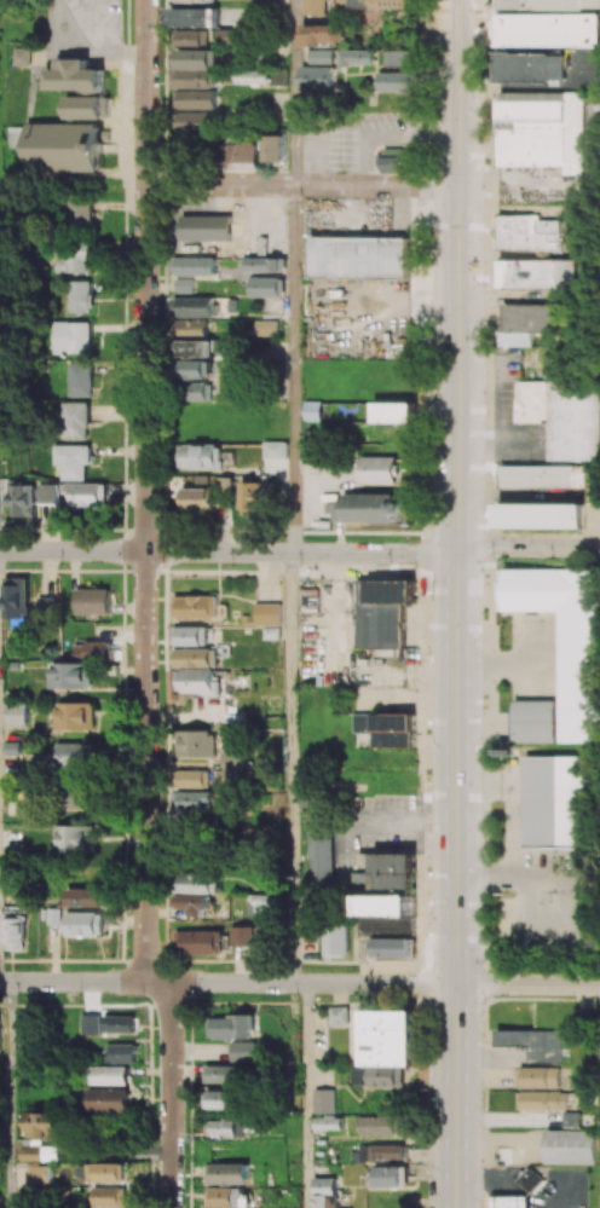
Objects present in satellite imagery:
building: (195, 2)
building: (549, 4)
building: (312, 7)
building: (194, 17)
building: (547, 30)
building: (322, 34)
building: (192, 36)
building: (230, 36)
building: (18, 56)
building: (319, 56)
building: (356, 57)
building: (399, 58)
building: (530, 67)
building: (195, 69)
building: (74, 75)
building: (252, 76)
building: (316, 76)
building: (397, 82)
road: (293, 92)
street lamp: (483, 96)
building: (195, 99)
building: (86, 108)
building: (540, 129)
building: (62, 148)
building: (275, 148)
building: (396, 161)
road: (301, 185)
street lamp: (431, 197)
building: (79, 214)
building: (204, 227)
building: (526, 233)
building: (359, 256)
building: (69, 259)
building: (264, 264)
building: (194, 266)
building: (535, 274)
street lamp: (481, 284)
building: (184, 285)
building: (266, 287)
building: (76, 296)
building: (194, 306)
building: (523, 323)
building: (191, 326)
building: (266, 328)
building: (69, 337)
building: (197, 347)
building: (195, 369)
road: (293, 369)
building: (77, 380)
building: (196, 391)
building: (393, 412)
street lamp: (483, 415)
building: (559, 417)
building: (74, 421)
building: (275, 450)
building: (201, 457)
building: (71, 461)
building: (379, 469)
building: (540, 476)
road: (145, 491)
road: (457, 492)
building: (86, 493)
building: (30, 498)
building: (253, 498)
building: (196, 499)
building: (365, 508)
building: (538, 515)
road: (527, 545)
road: (229, 553)
street lamp: (494, 559)
building: (15, 597)
building: (92, 601)
building: (45, 606)
building: (195, 606)
building: (381, 612)
building: (267, 614)
building: (192, 635)
building: (565, 640)
building: (91, 649)
street lamp: (428, 653)
building: (197, 658)
building: (70, 676)
building: (201, 682)
building: (16, 715)
street lamp: (483, 715)
building: (74, 716)
building: (532, 721)
building: (387, 728)
building: (196, 744)
building: (73, 755)
building: (231, 764)
road: (290, 768)
building: (191, 778)
building: (74, 797)
building: (194, 800)
building: (558, 800)
road: (513, 803)
street lamp: (427, 836)
building: (73, 838)
building: (317, 851)
building: (363, 874)
building: (196, 883)
road: (588, 895)
building: (85, 897)
building: (190, 903)
building: (258, 904)
building: (390, 906)
building: (53, 915)
building: (86, 924)
building: (12, 934)
building: (242, 936)
building: (335, 941)
building: (198, 942)
street lamp: (481, 960)
road: (227, 983)
road: (529, 986)
building: (337, 1016)
building: (90, 1024)
building: (119, 1024)
building: (231, 1027)
building: (24, 1031)
building: (533, 1042)
building: (383, 1047)
building: (117, 1052)
building: (246, 1052)
building: (225, 1074)
building: (109, 1075)
building: (538, 1077)
street lamp: (426, 1088)
road: (7, 1096)
road: (172, 1096)
road: (306, 1096)
road: (456, 1097)
building: (224, 1099)
building: (108, 1100)
building: (542, 1100)
building: (324, 1102)
building: (571, 1119)
building: (327, 1123)
building: (41, 1125)
building: (377, 1126)
building: (227, 1128)
building: (569, 1146)
building: (379, 1151)
building: (28, 1154)
building: (83, 1172)
building: (109, 1172)
building: (226, 1173)
building: (37, 1174)
building: (388, 1177)
building: (530, 1180)
building: (323, 1192)
building: (110, 1197)
building: (229, 1198)
building: (512, 1202)

